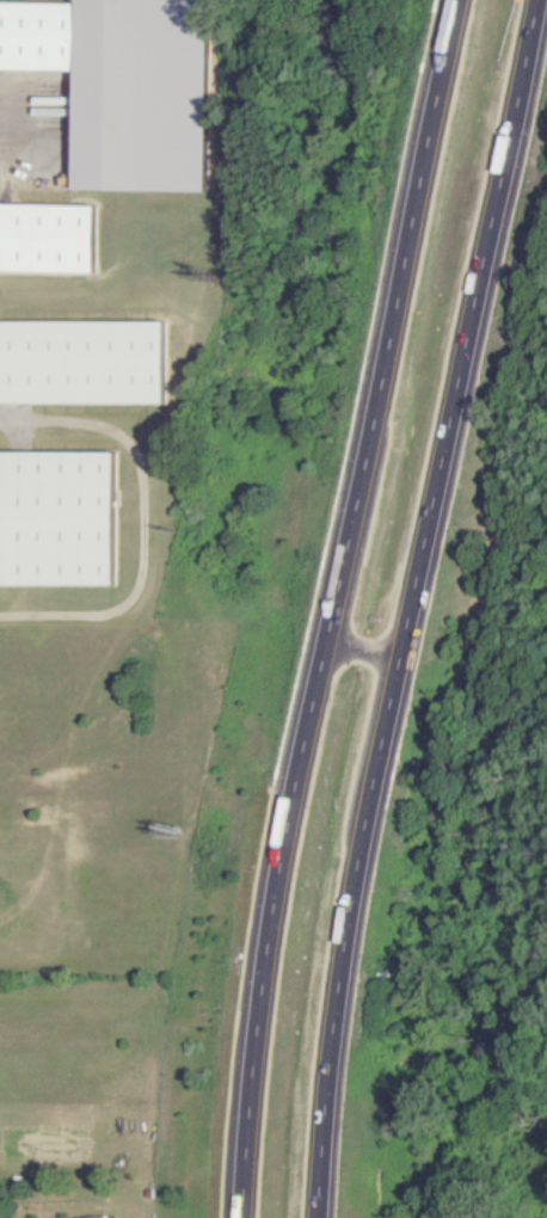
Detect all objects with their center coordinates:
building: (99, 7)
building: (93, 99)
building: (49, 238)
building: (86, 362)
building: (59, 518)
road: (330, 605)
road: (406, 605)
road: (136, 640)
road: (358, 652)
building: (96, 1217)

